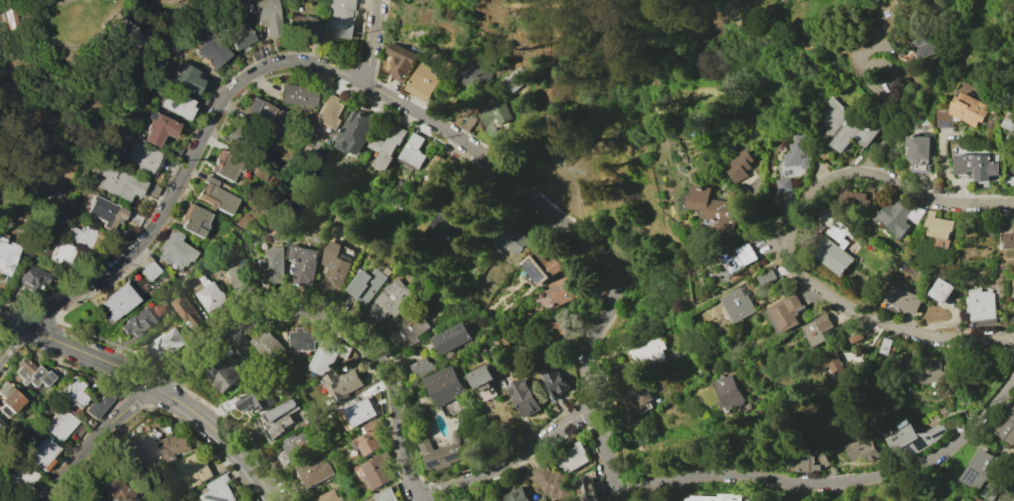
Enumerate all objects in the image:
building: (161, 1)
building: (170, 2)
road: (26, 15)
building: (268, 16)
building: (340, 17)
building: (3, 18)
building: (303, 25)
building: (238, 37)
park: (559, 38)
road: (371, 41)
building: (927, 45)
building: (209, 50)
building: (256, 53)
building: (401, 61)
road: (867, 63)
building: (184, 78)
building: (473, 78)
building: (425, 80)
building: (513, 80)
park: (61, 83)
road: (380, 93)
building: (295, 94)
building: (175, 104)
road: (768, 106)
building: (966, 108)
building: (465, 109)
building: (261, 112)
building: (329, 112)
building: (494, 117)
building: (468, 122)
building: (1009, 123)
building: (845, 125)
building: (157, 129)
building: (355, 131)
road: (882, 133)
building: (233, 139)
building: (246, 140)
building: (387, 145)
building: (798, 152)
building: (920, 152)
building: (412, 153)
building: (141, 156)
building: (224, 166)
building: (739, 166)
building: (977, 166)
building: (447, 169)
building: (259, 173)
building: (1009, 180)
road: (894, 182)
building: (123, 183)
building: (784, 185)
building: (216, 196)
building: (853, 198)
building: (715, 209)
building: (111, 213)
building: (900, 216)
building: (193, 220)
building: (448, 226)
building: (938, 226)
building: (1006, 232)
building: (839, 233)
building: (83, 236)
building: (516, 241)
building: (173, 249)
building: (60, 252)
building: (6, 255)
building: (833, 256)
building: (740, 259)
building: (270, 264)
building: (302, 264)
building: (333, 266)
building: (542, 266)
building: (148, 271)
building: (767, 277)
building: (31, 278)
building: (239, 278)
rooftop solar panel: (36, 279)
rooftop solar panel: (43, 279)
building: (365, 285)
building: (940, 291)
building: (559, 292)
building: (1013, 292)
building: (209, 295)
building: (902, 299)
building: (1013, 299)
building: (118, 300)
building: (389, 300)
building: (737, 304)
building: (980, 304)
building: (185, 310)
road: (255, 310)
building: (786, 313)
building: (1011, 317)
road: (873, 320)
building: (137, 322)
building: (818, 328)
building: (560, 329)
building: (856, 337)
building: (451, 338)
building: (303, 339)
building: (165, 343)
building: (265, 343)
building: (243, 344)
building: (887, 345)
building: (650, 352)
building: (325, 356)
building: (831, 362)
building: (422, 366)
building: (934, 371)
building: (31, 373)
building: (222, 374)
rooftop solar panel: (34, 375)
building: (482, 376)
rooftop solar panel: (49, 377)
rooftop solar panel: (43, 381)
building: (555, 381)
building: (342, 382)
road: (153, 385)
building: (445, 385)
building: (72, 391)
building: (727, 391)
building: (525, 397)
building: (639, 397)
building: (8, 400)
building: (251, 400)
building: (96, 402)
building: (360, 412)
road: (520, 413)
building: (279, 418)
building: (59, 423)
building: (1, 424)
building: (1007, 427)
building: (913, 437)
building: (370, 438)
building: (296, 445)
building: (160, 448)
building: (861, 448)
building: (43, 453)
building: (442, 453)
rooftop solar panel: (455, 456)
building: (571, 457)
road: (509, 458)
building: (823, 460)
rooftop solar panel: (436, 463)
building: (807, 463)
building: (192, 469)
building: (979, 469)
building: (379, 471)
building: (313, 472)
building: (22, 479)
building: (551, 482)
road: (833, 483)
building: (115, 489)
building: (217, 490)
building: (588, 490)
building: (989, 492)
building: (387, 495)
building: (516, 495)
building: (325, 497)
road: (1012, 497)
building: (91, 498)
building: (719, 498)
building: (979, 499)
building: (1, 500)

